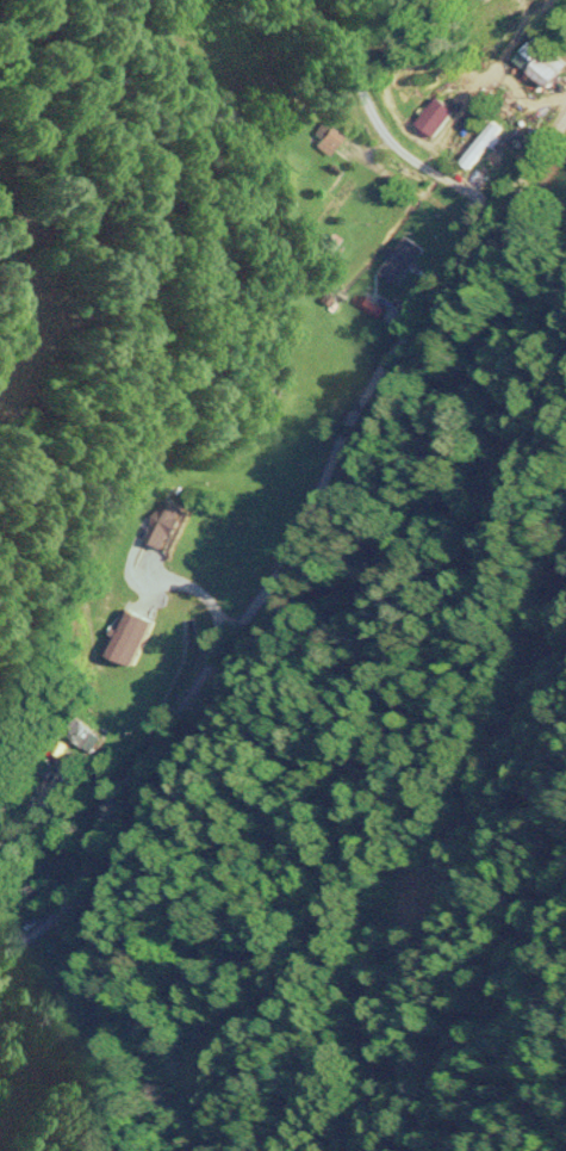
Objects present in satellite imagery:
building: (542, 62)
building: (437, 117)
building: (323, 138)
building: (336, 202)
road: (305, 510)
building: (168, 526)
building: (80, 732)
road: (23, 879)

